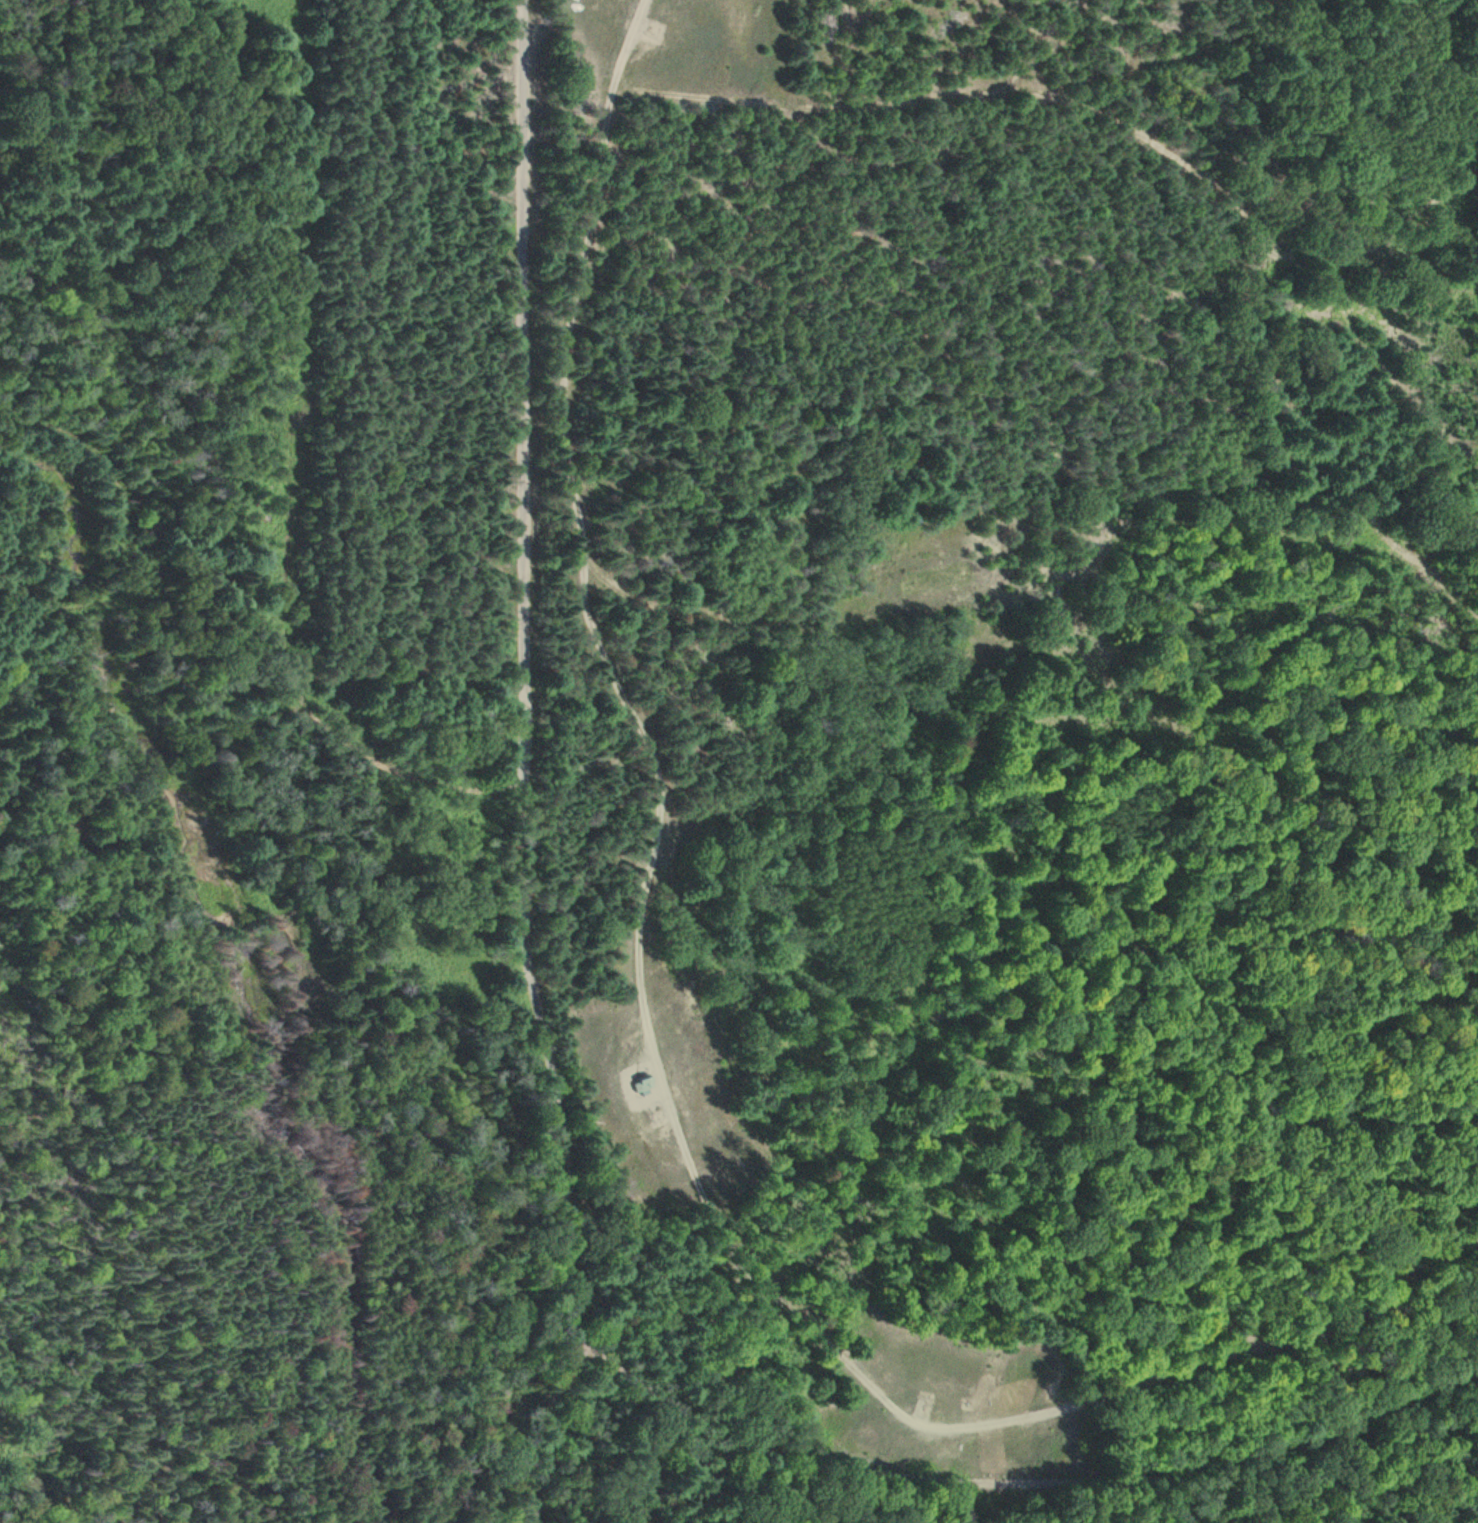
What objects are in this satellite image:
road: (525, 397)
road: (107, 647)
road: (401, 776)
building: (641, 1085)
road: (548, 1156)
road: (1016, 1482)

